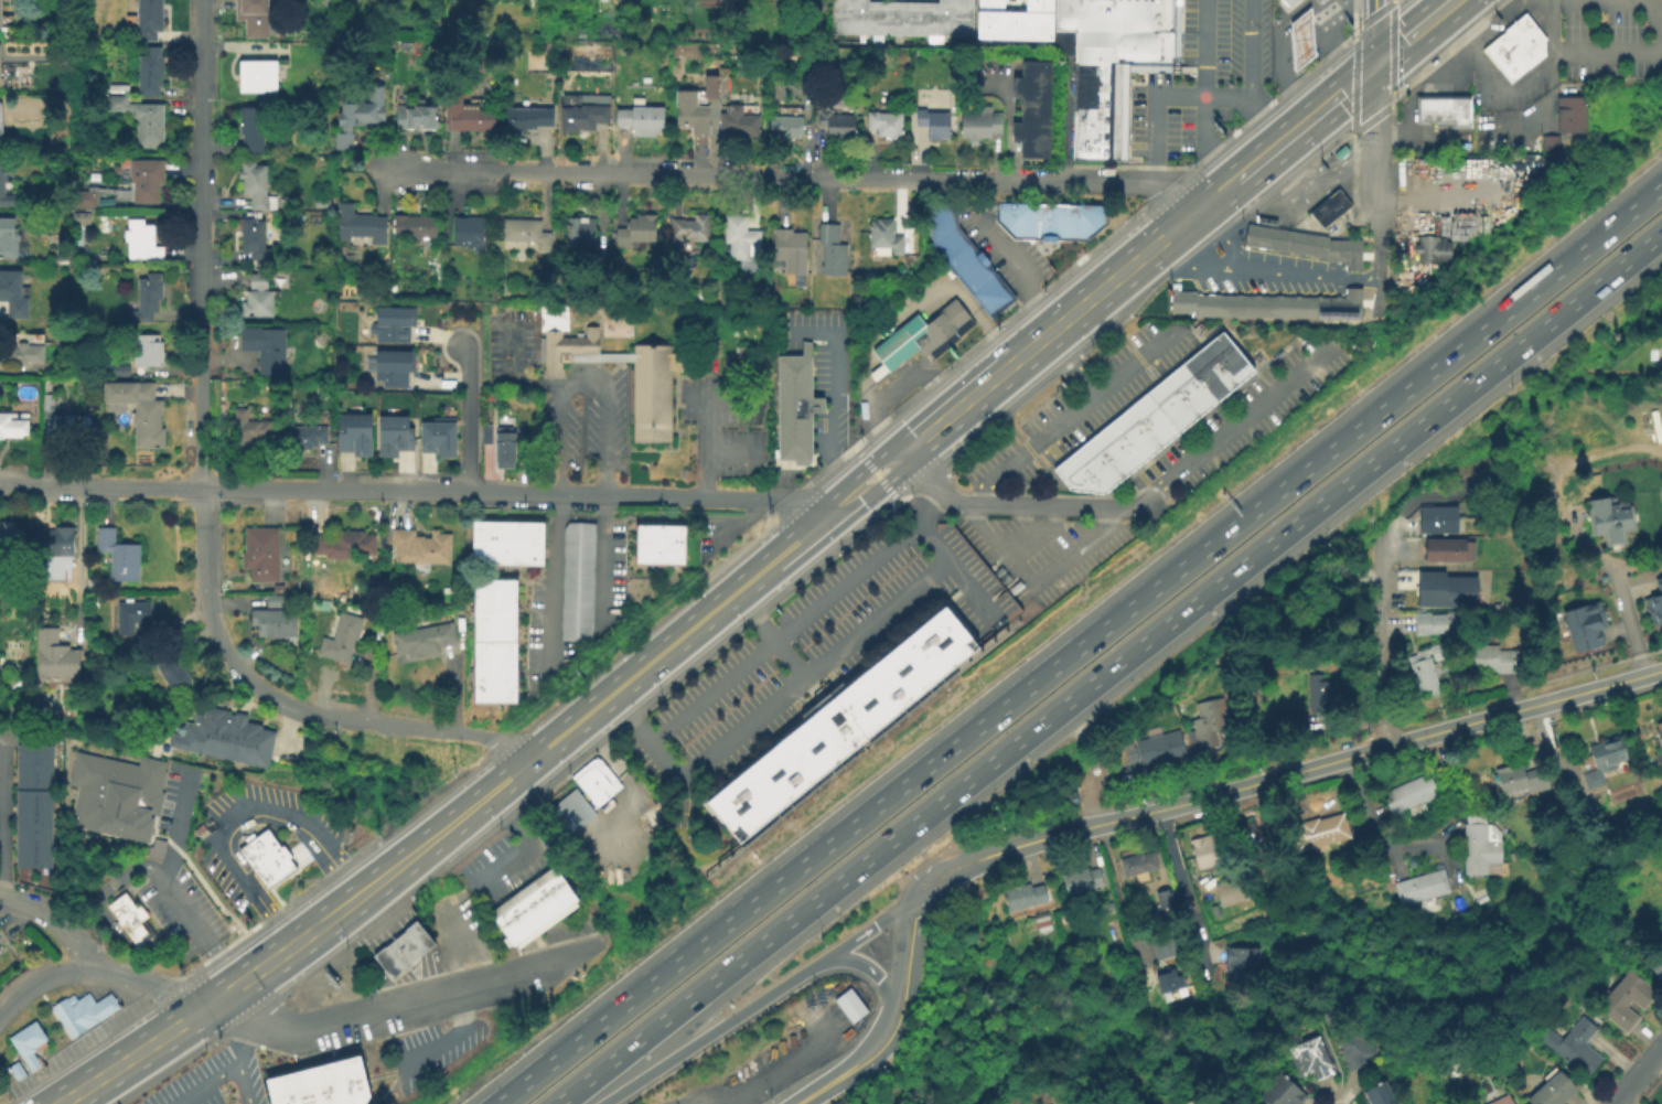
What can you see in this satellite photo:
building: (1134, 1)
building: (719, 3)
road: (1443, 3)
building: (1287, 4)
road: (1654, 9)
building: (1068, 13)
building: (1092, 15)
building: (1111, 15)
building: (901, 17)
building: (1130, 17)
building: (1149, 17)
building: (1170, 17)
building: (253, 18)
building: (143, 19)
building: (1012, 20)
road: (1374, 33)
road: (1415, 33)
building: (1525, 35)
building: (1299, 39)
gas station: (1299, 39)
road: (1423, 46)
building: (1116, 47)
road: (1279, 47)
building: (1515, 47)
building: (1169, 51)
road: (1606, 51)
building: (1503, 57)
traffic signals: (1374, 67)
building: (149, 69)
building: (1098, 73)
building: (256, 74)
road: (1484, 74)
road: (1250, 77)
building: (0, 81)
road: (1548, 83)
building: (1097, 88)
road: (1160, 96)
road: (1200, 98)
building: (694, 105)
building: (1098, 105)
road: (1328, 106)
building: (1031, 108)
building: (1443, 108)
road: (1374, 110)
building: (357, 115)
building: (414, 115)
building: (469, 115)
building: (580, 116)
building: (525, 117)
building: (139, 118)
building: (640, 118)
building: (1565, 119)
building: (737, 120)
building: (1097, 120)
building: (834, 121)
building: (931, 121)
building: (978, 121)
building: (783, 124)
building: (880, 124)
building: (0, 125)
building: (250, 127)
building: (1097, 137)
building: (1340, 150)
building: (1097, 152)
road: (1237, 153)
building: (143, 178)
road: (730, 178)
road: (1375, 180)
road: (1136, 181)
building: (254, 184)
building: (8, 194)
building: (83, 197)
road: (1302, 200)
building: (1328, 210)
building: (79, 216)
building: (941, 216)
building: (1093, 216)
building: (1012, 217)
building: (1038, 219)
building: (1074, 219)
building: (1055, 221)
building: (358, 223)
building: (412, 224)
building: (689, 227)
building: (633, 229)
building: (467, 231)
building: (524, 231)
building: (578, 231)
building: (738, 235)
building: (882, 235)
building: (7, 237)
building: (251, 237)
building: (139, 239)
road: (1222, 239)
building: (1306, 242)
building: (952, 245)
building: (829, 248)
building: (1430, 248)
building: (787, 249)
road: (1376, 256)
road: (1017, 267)
building: (972, 269)
road: (1255, 271)
building: (11, 292)
building: (991, 294)
building: (144, 296)
building: (255, 296)
road: (1092, 299)
building: (1266, 304)
road: (894, 311)
road: (202, 320)
building: (392, 322)
building: (921, 333)
building: (712, 345)
building: (264, 346)
building: (1222, 346)
building: (144, 349)
building: (20, 352)
building: (1209, 358)
building: (739, 363)
building: (392, 366)
building: (119, 369)
road: (915, 373)
building: (1189, 373)
road: (508, 375)
road: (583, 377)
building: (651, 377)
building: (1226, 377)
road: (830, 392)
building: (1159, 397)
building: (46, 400)
road: (729, 401)
building: (287, 404)
building: (794, 405)
building: (1189, 407)
building: (136, 408)
road: (468, 418)
building: (1133, 419)
building: (13, 422)
road: (1236, 422)
building: (245, 427)
building: (69, 428)
building: (352, 432)
building: (484, 432)
building: (393, 433)
building: (1115, 433)
building: (304, 435)
building: (1156, 435)
building: (437, 437)
road: (699, 441)
building: (502, 448)
building: (1096, 449)
road: (729, 452)
building: (1126, 458)
building: (1079, 462)
road: (872, 465)
building: (1065, 473)
road: (879, 475)
road: (986, 478)
building: (1097, 480)
road: (886, 483)
building: (1574, 485)
road: (412, 492)
road: (821, 497)
road: (1556, 503)
road: (1014, 504)
road: (835, 511)
building: (1613, 515)
building: (1438, 519)
road: (736, 530)
building: (9, 536)
road: (1032, 536)
building: (55, 540)
building: (505, 542)
building: (342, 543)
building: (658, 543)
building: (418, 545)
building: (1455, 549)
building: (259, 551)
building: (117, 554)
road: (605, 559)
road: (78, 564)
road: (955, 568)
building: (576, 580)
road: (544, 582)
building: (276, 587)
building: (1444, 588)
building: (1656, 597)
building: (271, 599)
building: (492, 609)
building: (129, 613)
road: (800, 619)
building: (271, 621)
building: (1584, 621)
building: (1435, 623)
road: (1630, 623)
road: (768, 635)
building: (339, 636)
building: (420, 640)
road: (671, 645)
road: (1083, 645)
road: (1382, 649)
building: (53, 653)
building: (1492, 656)
road: (1111, 668)
building: (1423, 669)
building: (492, 672)
building: (168, 673)
road: (1601, 687)
building: (1320, 693)
road: (265, 695)
road: (772, 700)
building: (1212, 720)
building: (840, 721)
road: (436, 730)
building: (1660, 733)
building: (224, 735)
building: (1165, 747)
building: (1134, 754)
building: (1605, 758)
building: (594, 780)
building: (1522, 781)
road: (630, 782)
road: (1263, 783)
building: (1412, 795)
building: (111, 796)
building: (36, 805)
building: (569, 810)
road: (237, 813)
building: (651, 821)
road: (1372, 830)
building: (1319, 833)
building: (1246, 837)
road: (528, 845)
building: (1483, 845)
building: (156, 847)
building: (1202, 851)
building: (265, 856)
building: (1136, 862)
road: (933, 866)
road: (1111, 873)
road: (954, 880)
building: (1083, 880)
road: (1182, 886)
road: (366, 887)
building: (1424, 887)
building: (1232, 891)
building: (1027, 896)
building: (1167, 900)
road: (912, 903)
road: (97, 907)
building: (533, 907)
road: (372, 908)
building: (129, 917)
road: (54, 920)
building: (1044, 920)
road: (195, 926)
road: (864, 933)
road: (1266, 933)
building: (401, 947)
building: (1164, 947)
building: (1237, 961)
building: (1658, 964)
road: (870, 969)
road: (49, 973)
road: (1304, 975)
road: (432, 976)
road: (136, 979)
building: (1170, 980)
road: (478, 984)
road: (200, 987)
road: (893, 994)
road: (910, 997)
building: (1628, 999)
road: (201, 1003)
building: (105, 1004)
building: (848, 1004)
building: (84, 1009)
building: (66, 1015)
road: (312, 1028)
road: (197, 1030)
road: (61, 1031)
road: (716, 1032)
road: (444, 1037)
building: (26, 1041)
road: (1328, 1042)
building: (1583, 1047)
building: (1353, 1048)
road: (130, 1054)
building: (1311, 1057)
road: (236, 1060)
building: (14, 1070)
road: (1636, 1073)
building: (320, 1083)
road: (204, 1084)
road: (746, 1085)
flagpole: (224, 1086)
road: (826, 1086)
building: (1557, 1090)
building: (1283, 1091)
building: (1383, 1093)
building: (1506, 1100)
building: (1202, 1103)

